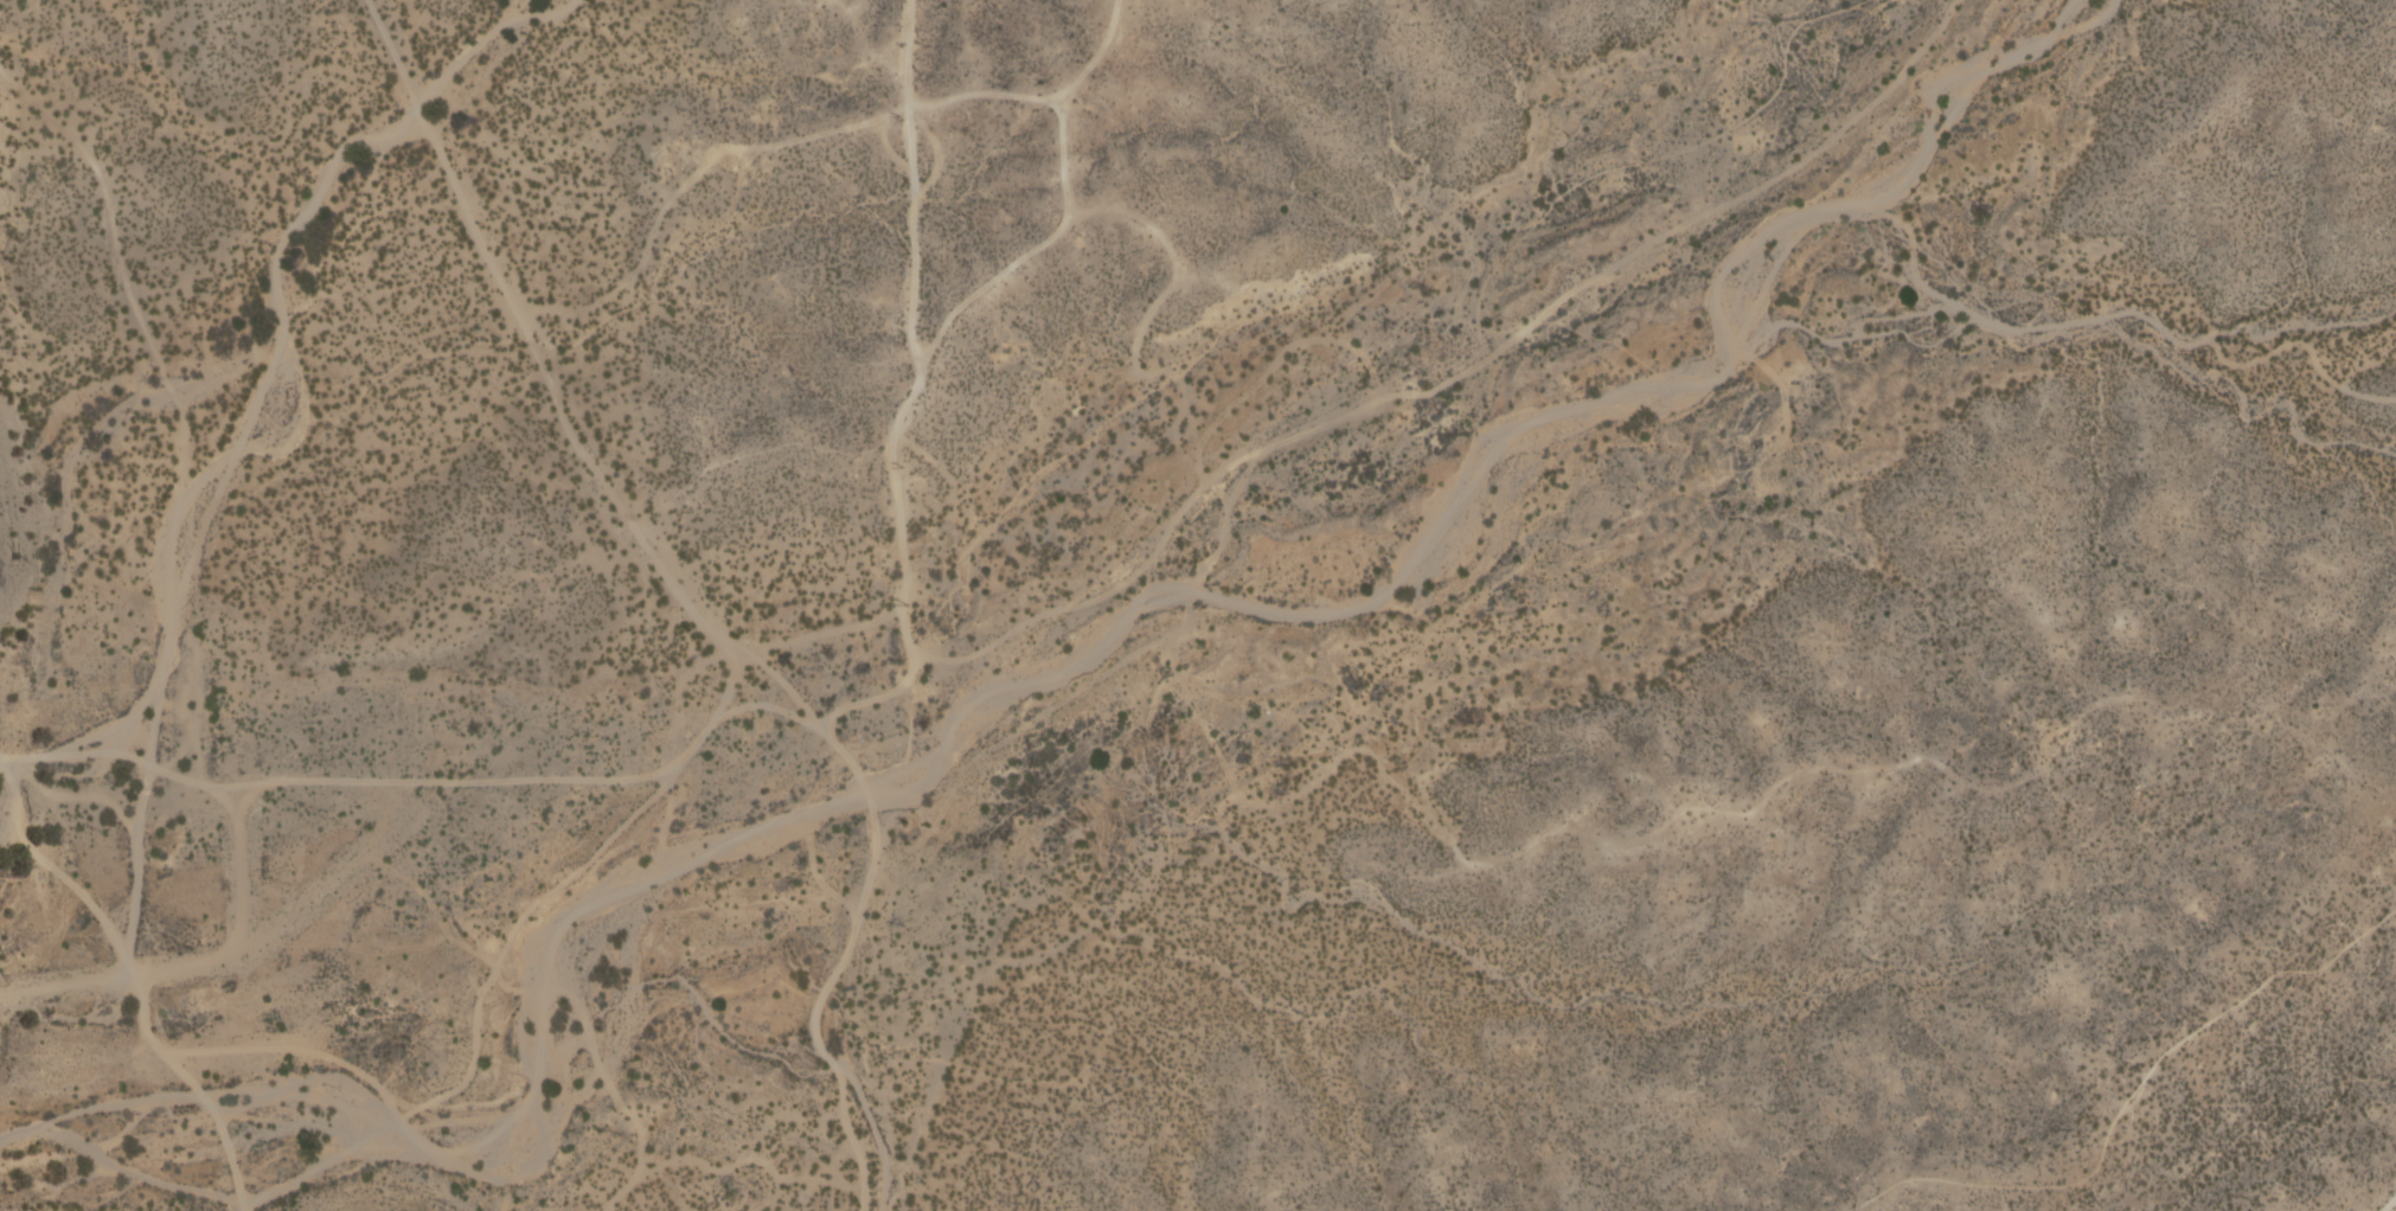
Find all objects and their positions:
road: (922, 366)
road: (813, 1006)
road: (2388, 1202)

